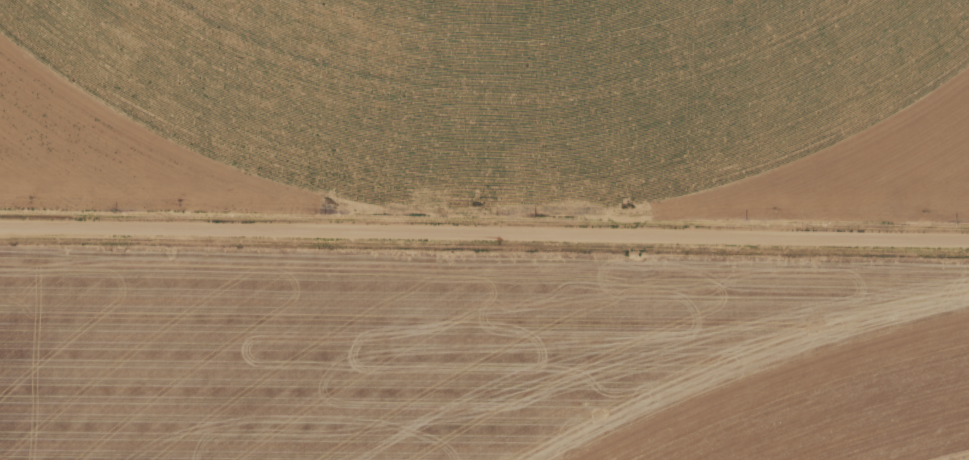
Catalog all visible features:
road: (484, 238)

